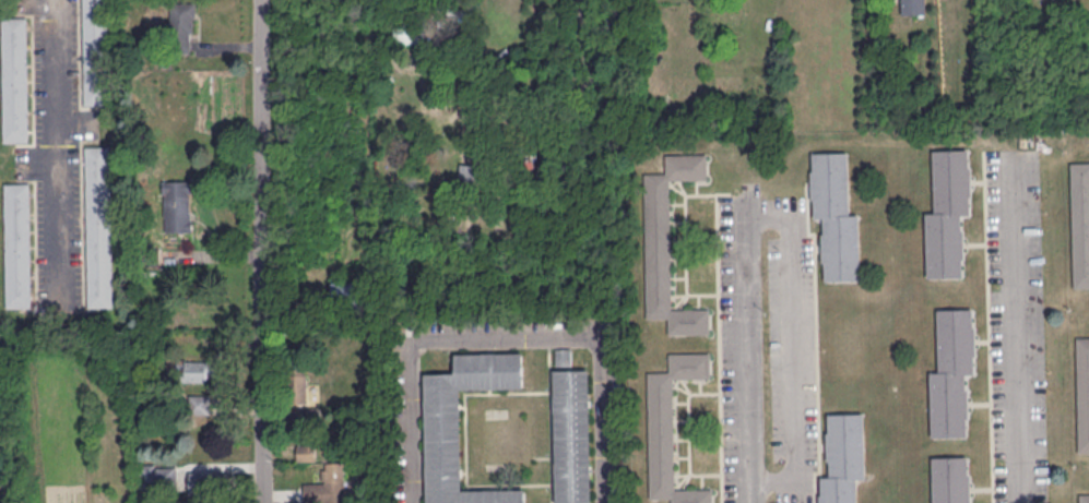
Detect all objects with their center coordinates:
building: (912, 7)
building: (181, 26)
building: (96, 51)
building: (15, 79)
road: (55, 144)
building: (469, 172)
building: (178, 205)
building: (947, 213)
building: (834, 216)
road: (783, 221)
building: (1080, 223)
building: (99, 225)
building: (17, 244)
building: (668, 244)
road: (260, 251)
building: (348, 294)
road: (184, 314)
road: (1021, 327)
road: (506, 335)
building: (563, 356)
building: (199, 370)
building: (952, 372)
building: (296, 383)
building: (1082, 392)
building: (199, 404)
building: (672, 427)
building: (572, 435)
building: (442, 439)
building: (843, 457)
building: (950, 479)
building: (210, 481)
building: (329, 484)
road: (757, 488)
building: (1084, 498)

